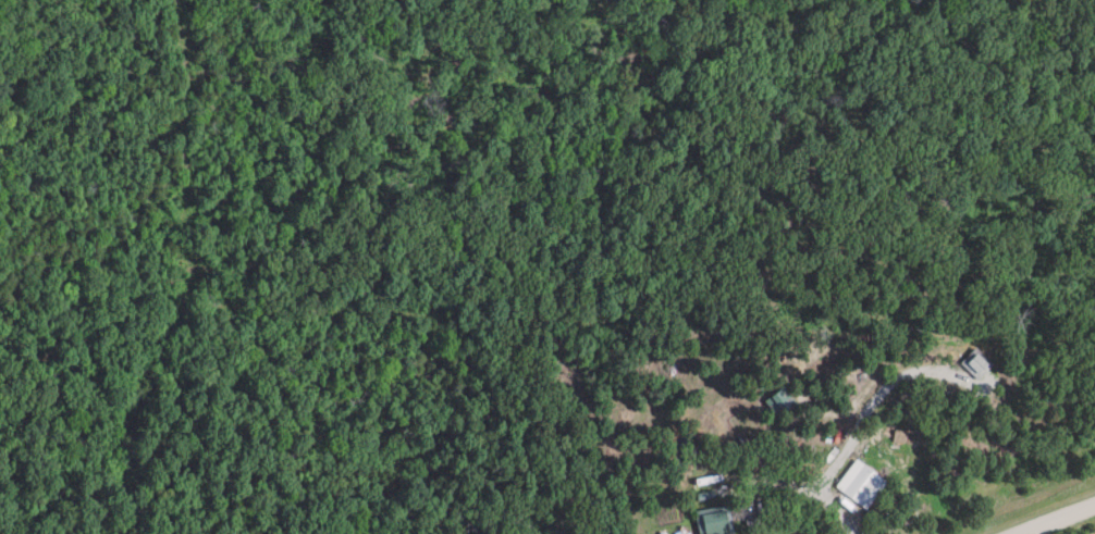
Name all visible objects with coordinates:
building: (979, 363)
road: (807, 485)
building: (868, 487)
road: (1058, 520)
building: (716, 521)

